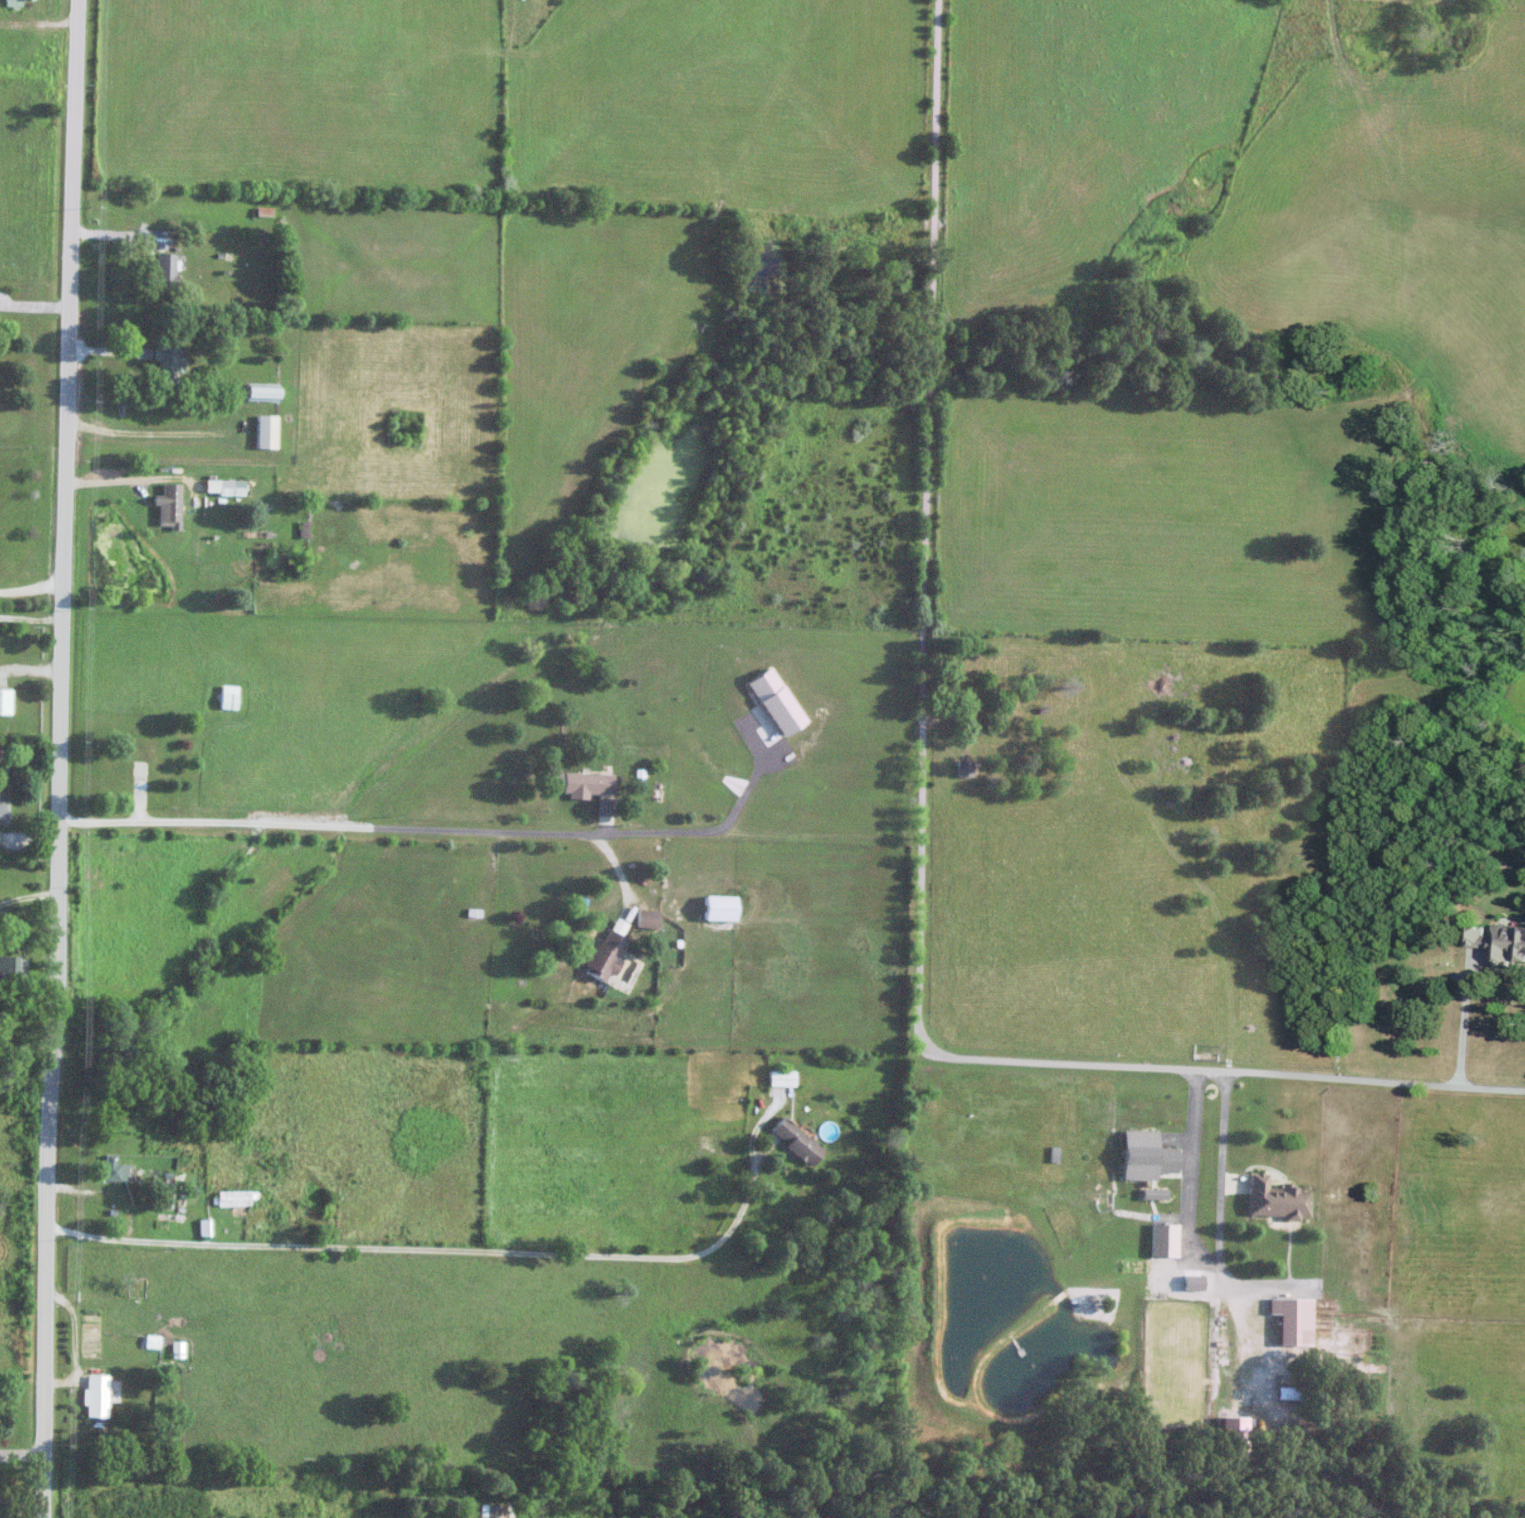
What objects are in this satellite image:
building: (12, 3)
building: (164, 269)
road: (38, 303)
building: (141, 353)
building: (167, 364)
building: (260, 392)
building: (265, 431)
building: (224, 487)
building: (168, 505)
road: (36, 586)
road: (34, 618)
building: (5, 701)
building: (227, 701)
road: (61, 758)
building: (965, 768)
building: (586, 783)
road: (930, 820)
road: (324, 824)
road: (718, 827)
road: (619, 871)
building: (718, 908)
building: (646, 918)
building: (1498, 942)
building: (605, 954)
building: (11, 968)
road: (1464, 1015)
building: (781, 1077)
building: (796, 1140)
building: (114, 1169)
building: (234, 1198)
building: (1273, 1198)
road: (471, 1248)
building: (1290, 1319)
building: (149, 1342)
building: (1307, 1394)
building: (93, 1396)
building: (1231, 1435)
road: (26, 1452)
building: (487, 1511)

